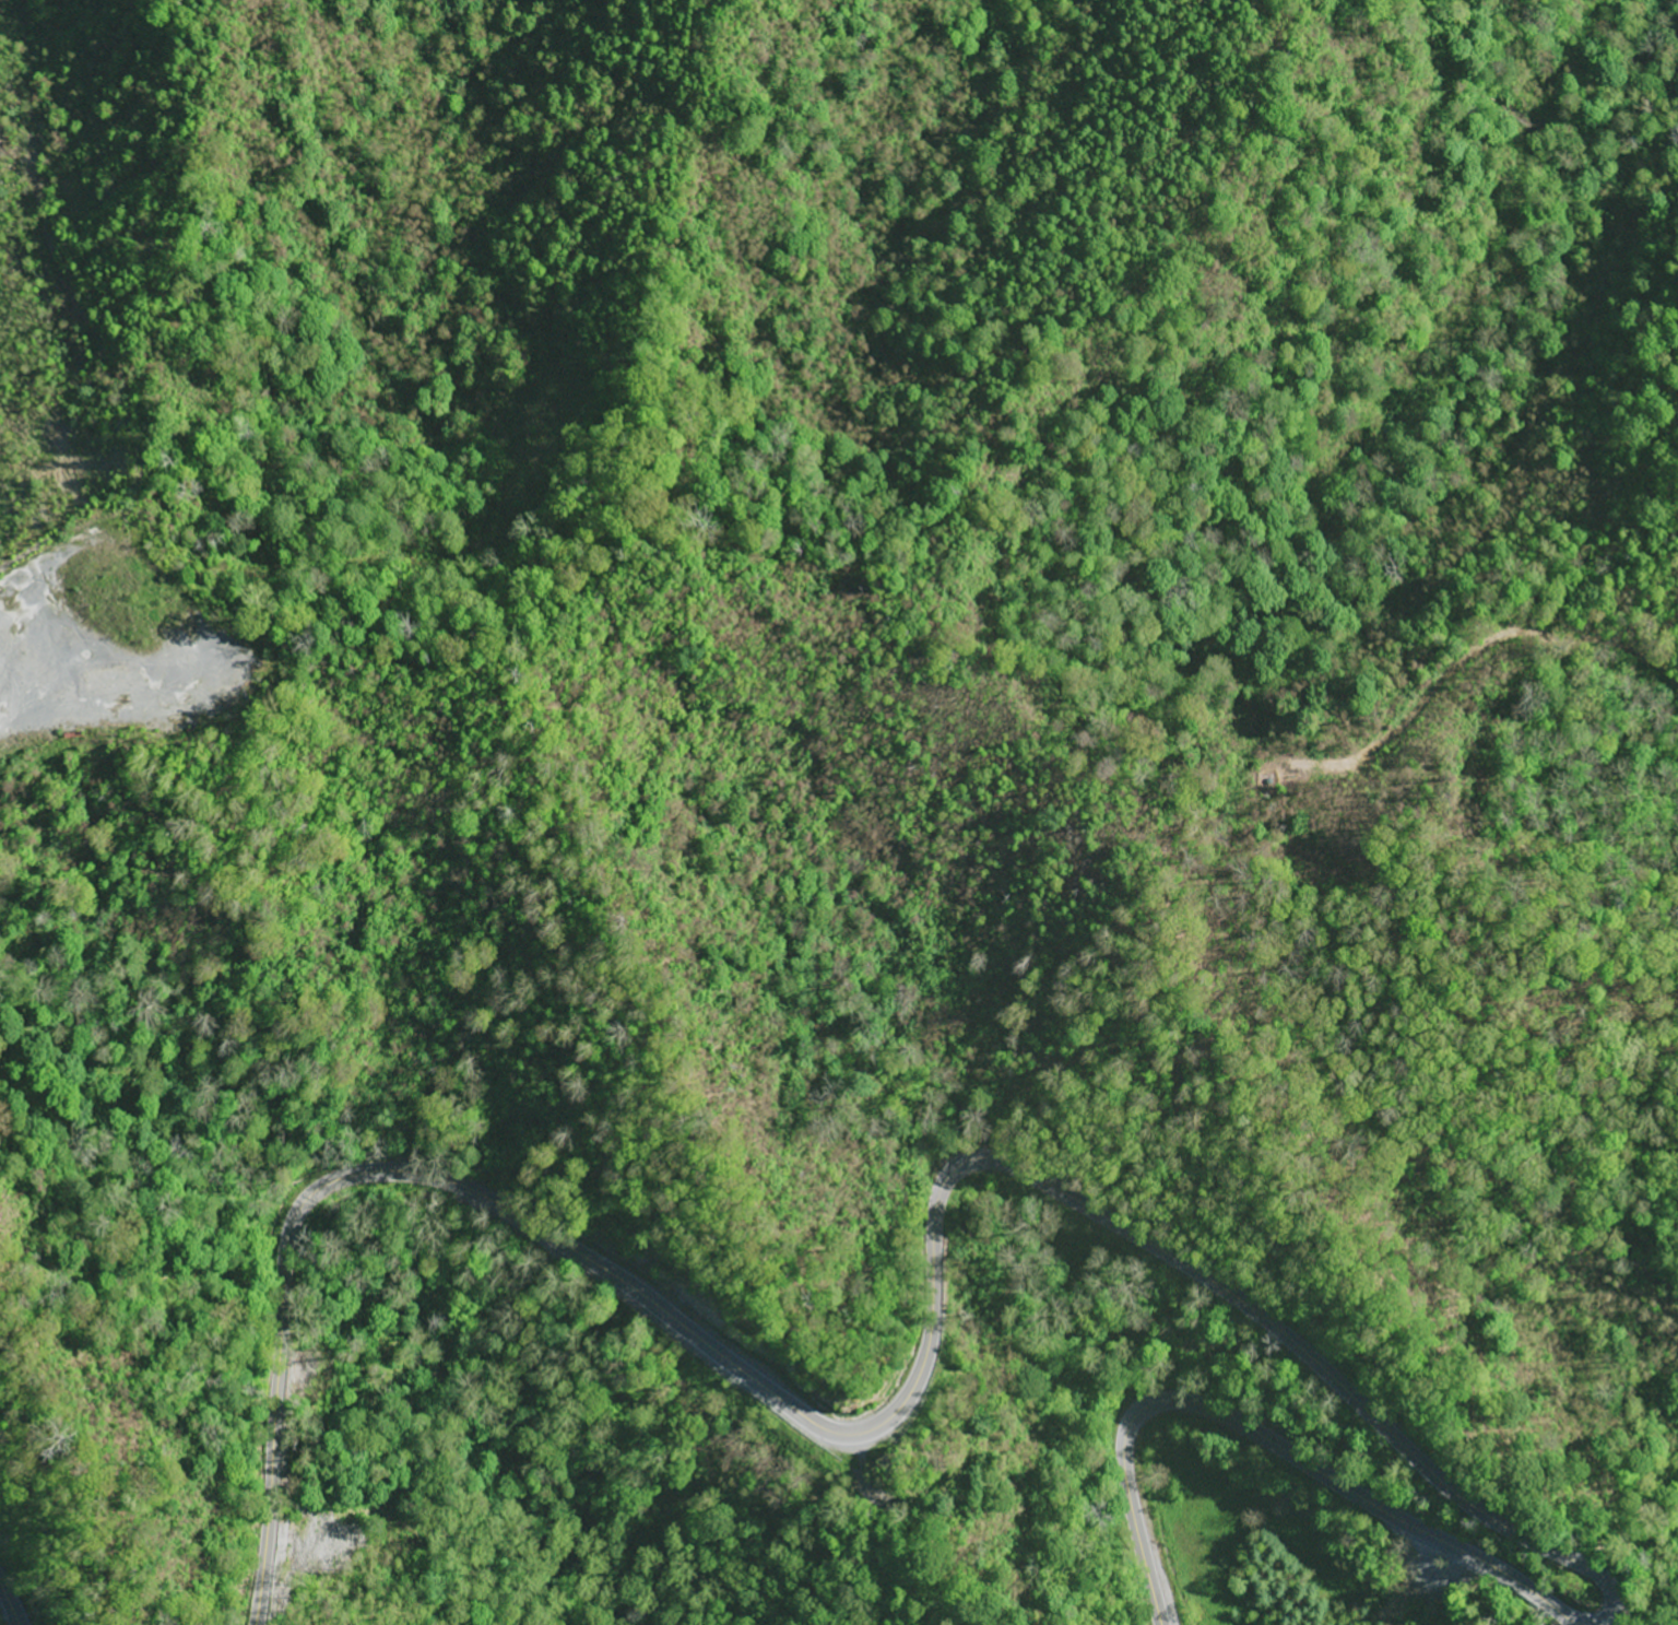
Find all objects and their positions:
road: (37, 558)
road: (1477, 652)
road: (1053, 1186)
road: (9, 1605)

